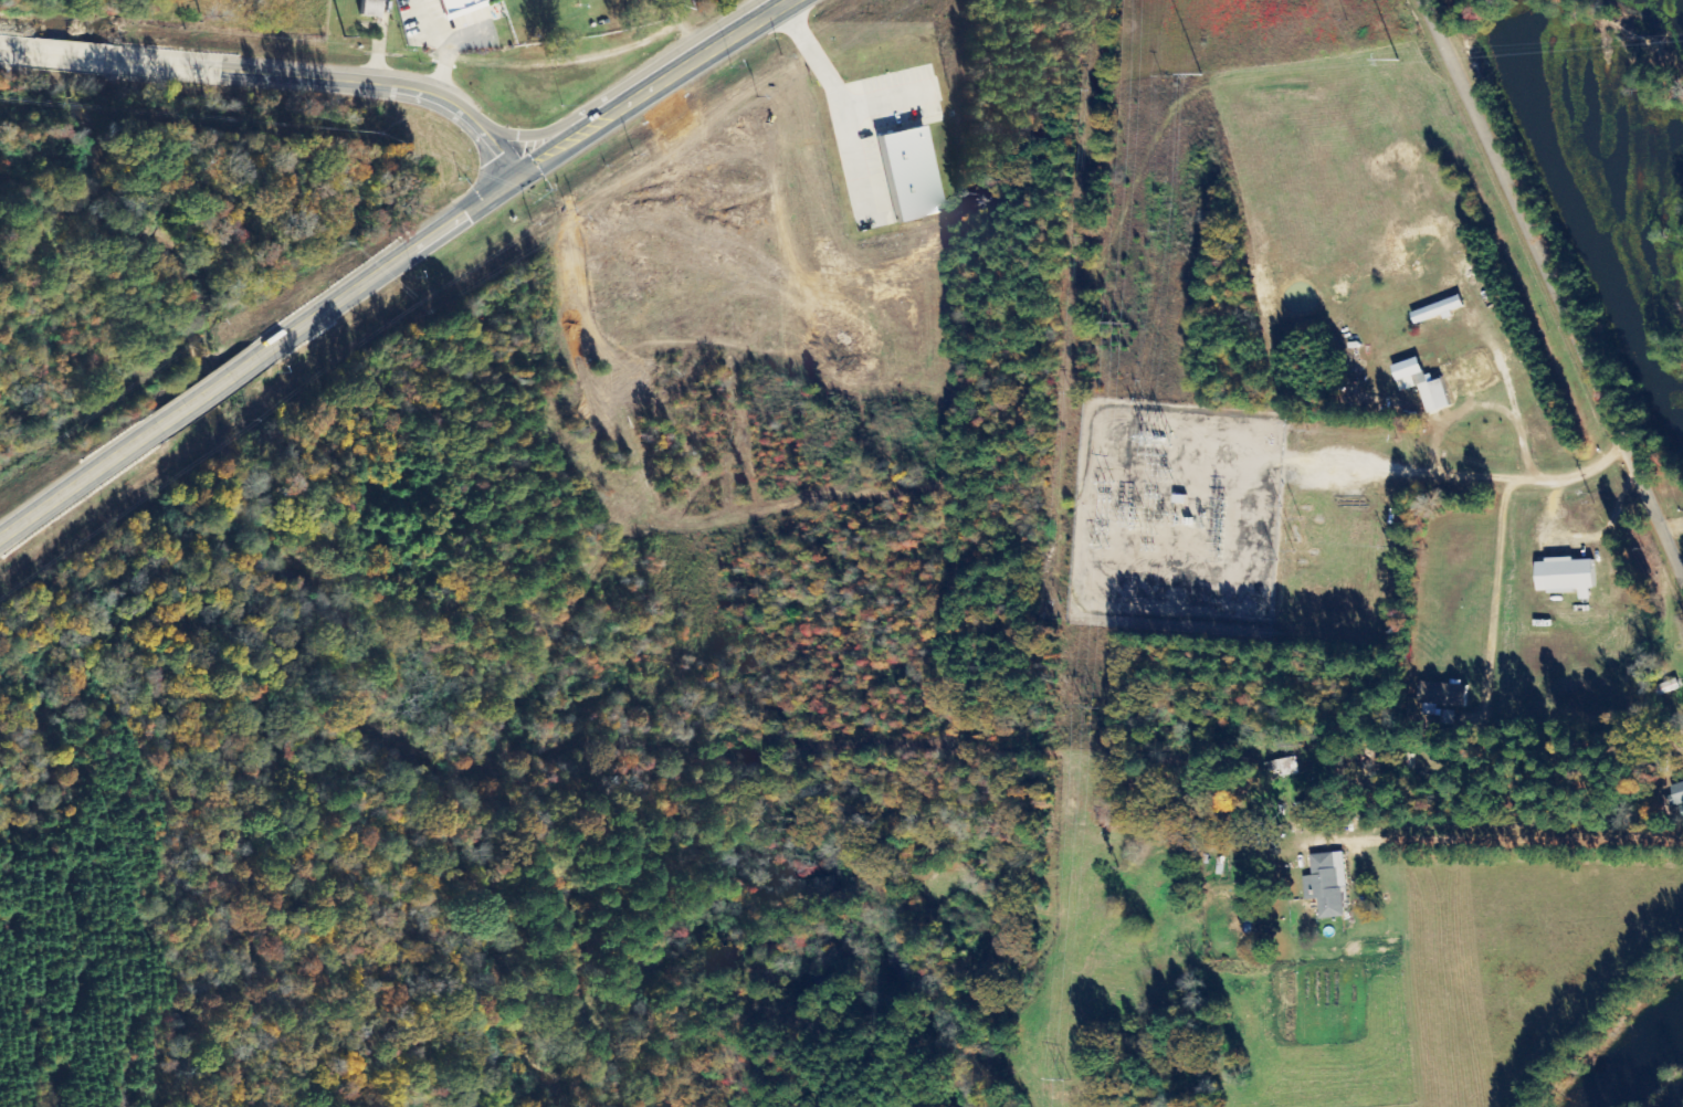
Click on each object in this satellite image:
building: (367, 8)
building: (455, 8)
road: (15, 49)
road: (65, 53)
road: (327, 80)
road: (658, 85)
building: (906, 173)
road: (388, 263)
road: (1558, 278)
building: (1471, 377)
building: (1420, 384)
road: (203, 388)
road: (76, 476)
road: (1669, 495)
building: (1566, 576)
road: (1351, 778)
building: (1679, 797)
building: (1327, 884)

